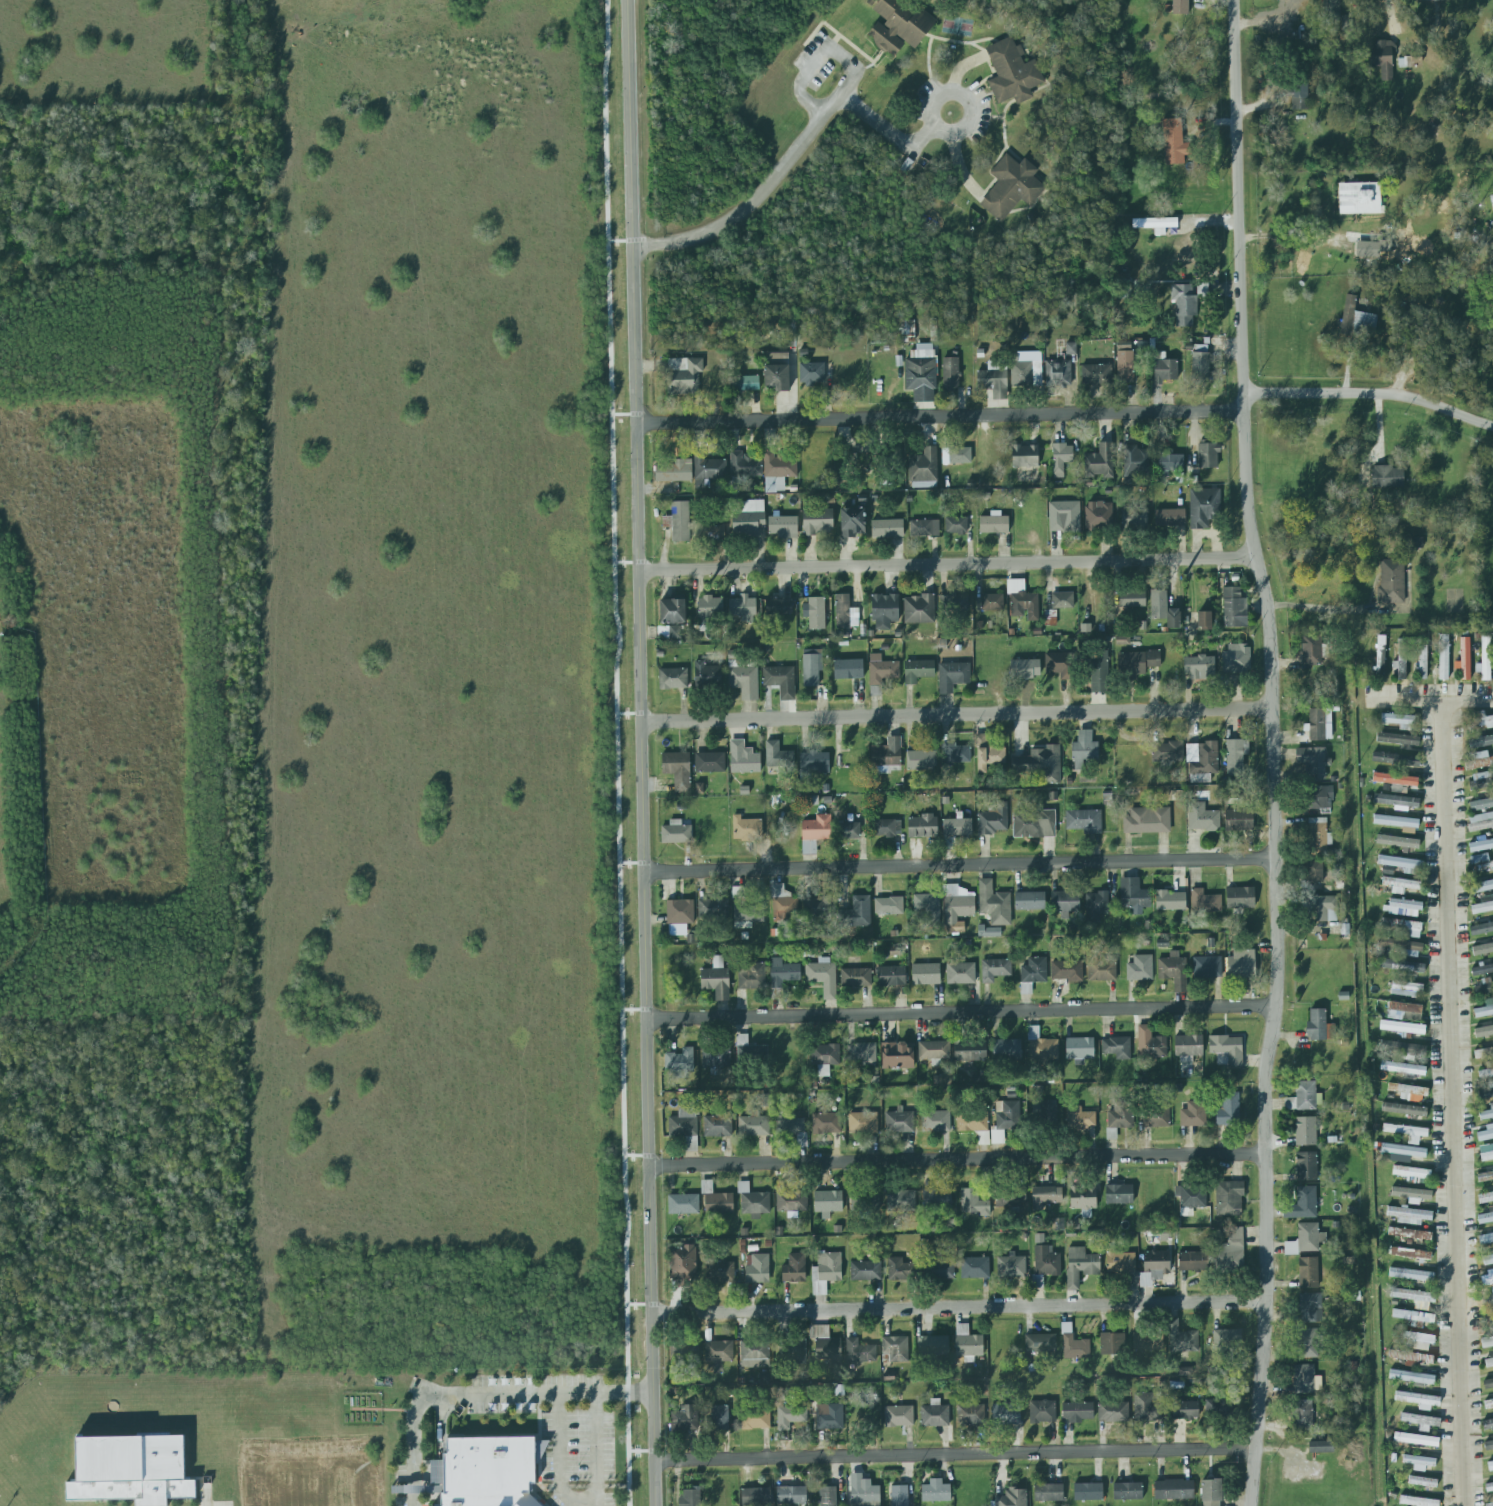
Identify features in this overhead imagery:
building: (1179, 7)
building: (899, 25)
building: (1382, 58)
building: (1409, 61)
building: (1012, 72)
building: (1299, 96)
road: (896, 139)
road: (802, 141)
building: (1173, 142)
road: (631, 163)
building: (1011, 187)
building: (1358, 198)
building: (1491, 202)
building: (1154, 223)
road: (620, 241)
building: (1374, 250)
building: (1184, 304)
building: (1356, 320)
building: (908, 327)
building: (1070, 348)
building: (778, 359)
building: (1124, 362)
building: (1200, 366)
building: (811, 370)
building: (1165, 371)
building: (1058, 373)
building: (950, 374)
building: (1026, 374)
building: (1096, 374)
building: (920, 375)
building: (776, 376)
building: (685, 379)
building: (994, 379)
building: (746, 384)
road: (1370, 392)
road: (624, 414)
road: (939, 416)
building: (957, 455)
building: (1208, 455)
building: (1024, 456)
building: (1061, 458)
building: (1100, 461)
building: (1170, 461)
building: (1135, 462)
building: (745, 465)
building: (923, 466)
building: (708, 470)
building: (778, 470)
building: (674, 471)
building: (1386, 477)
building: (1203, 507)
building: (1097, 516)
building: (747, 517)
building: (1064, 517)
building: (1169, 517)
building: (853, 518)
building: (1134, 519)
building: (817, 522)
building: (679, 523)
building: (956, 525)
building: (783, 526)
building: (994, 526)
building: (887, 528)
building: (924, 528)
building: (714, 533)
road: (627, 563)
road: (947, 566)
building: (1391, 582)
building: (1131, 598)
building: (1062, 600)
building: (1022, 601)
building: (953, 602)
building: (992, 602)
building: (778, 606)
building: (918, 606)
building: (884, 607)
building: (710, 608)
building: (743, 608)
building: (1234, 608)
building: (1163, 609)
road: (1336, 610)
building: (815, 612)
building: (844, 612)
building: (673, 614)
building: (1204, 620)
building: (1313, 649)
building: (1380, 653)
building: (1443, 657)
building: (1400, 658)
building: (1236, 660)
building: (1463, 660)
building: (1485, 660)
building: (1137, 662)
building: (1422, 662)
building: (1056, 664)
building: (1198, 667)
building: (811, 668)
building: (848, 669)
building: (1025, 669)
building: (918, 671)
building: (1098, 673)
building: (879, 674)
building: (706, 675)
building: (952, 676)
building: (673, 679)
building: (744, 681)
building: (780, 681)
road: (1437, 700)
road: (630, 714)
road: (959, 715)
building: (1479, 719)
building: (1398, 720)
building: (1317, 723)
building: (1397, 739)
building: (1481, 742)
building: (1085, 748)
road: (1274, 751)
road: (617, 752)
building: (987, 752)
building: (1167, 752)
building: (955, 753)
building: (886, 754)
building: (777, 755)
building: (1235, 756)
building: (742, 757)
building: (1205, 757)
building: (1396, 759)
building: (921, 760)
building: (1479, 761)
building: (709, 762)
building: (814, 763)
building: (1313, 763)
building: (1040, 764)
building: (677, 770)
building: (1394, 779)
building: (1481, 781)
building: (1318, 797)
building: (1396, 801)
building: (1481, 803)
building: (1202, 817)
building: (993, 820)
building: (1238, 820)
building: (1084, 821)
building: (1147, 821)
building: (1480, 822)
building: (1398, 823)
building: (1033, 824)
building: (922, 826)
building: (956, 827)
building: (886, 828)
building: (746, 829)
building: (849, 829)
building: (676, 833)
building: (815, 833)
building: (1318, 836)
building: (1396, 841)
building: (1481, 844)
road: (632, 863)
building: (1401, 863)
building: (1481, 863)
road: (960, 865)
building: (1314, 872)
building: (1400, 885)
building: (1482, 887)
building: (1133, 895)
building: (1240, 897)
building: (1169, 899)
building: (1029, 901)
building: (1204, 901)
building: (994, 903)
building: (1064, 903)
building: (783, 904)
building: (1097, 904)
building: (1483, 904)
building: (819, 906)
building: (888, 906)
building: (957, 906)
building: (712, 908)
building: (1402, 908)
building: (1326, 909)
building: (679, 910)
building: (927, 910)
building: (745, 911)
building: (855, 913)
road: (646, 916)
building: (1404, 927)
building: (1481, 928)
building: (989, 932)
building: (1482, 949)
building: (1241, 965)
building: (1402, 966)
building: (1139, 967)
building: (1206, 967)
building: (995, 969)
building: (1033, 969)
building: (1482, 969)
building: (1066, 970)
building: (1101, 970)
building: (1173, 971)
building: (925, 973)
building: (960, 973)
building: (750, 975)
building: (782, 975)
building: (823, 976)
building: (891, 976)
building: (855, 977)
building: (716, 979)
building: (1484, 987)
building: (1025, 988)
building: (1405, 989)
building: (1484, 1009)
road: (634, 1010)
building: (1404, 1011)
road: (963, 1014)
building: (1319, 1026)
building: (1402, 1027)
building: (1483, 1031)
building: (1150, 1043)
building: (1115, 1044)
building: (1041, 1047)
building: (1188, 1048)
building: (1007, 1049)
building: (1080, 1049)
building: (1226, 1049)
building: (1401, 1050)
building: (750, 1051)
building: (933, 1051)
building: (970, 1051)
building: (864, 1052)
building: (825, 1053)
building: (1483, 1053)
building: (895, 1055)
building: (715, 1057)
building: (679, 1060)
building: (1402, 1068)
building: (1485, 1074)
building: (1178, 1088)
building: (1485, 1092)
building: (1304, 1097)
building: (1406, 1098)
road: (1454, 1103)
building: (1228, 1110)
building: (1045, 1112)
building: (1487, 1112)
building: (1193, 1113)
building: (1008, 1116)
building: (1121, 1116)
building: (1155, 1116)
building: (1079, 1118)
building: (971, 1120)
building: (898, 1121)
building: (935, 1121)
building: (863, 1122)
building: (826, 1123)
building: (685, 1124)
building: (717, 1124)
building: (753, 1125)
building: (797, 1131)
building: (1305, 1131)
building: (1406, 1132)
building: (1486, 1133)
building: (1403, 1150)
building: (1485, 1151)
road: (637, 1156)
road: (960, 1163)
building: (1306, 1166)
building: (1411, 1172)
building: (1485, 1177)
building: (1411, 1192)
building: (1117, 1193)
building: (1046, 1195)
building: (1192, 1196)
building: (1485, 1196)
building: (937, 1198)
building: (1228, 1198)
building: (1083, 1199)
building: (1010, 1200)
building: (791, 1201)
building: (864, 1201)
building: (900, 1201)
building: (753, 1202)
building: (683, 1203)
building: (719, 1203)
building: (828, 1203)
building: (973, 1203)
building: (1303, 1204)
building: (1409, 1215)
building: (1486, 1216)
building: (1073, 1224)
building: (1409, 1234)
building: (1309, 1237)
building: (1485, 1239)
building: (1290, 1248)
building: (1229, 1252)
building: (1410, 1253)
building: (1043, 1258)
building: (683, 1259)
building: (1119, 1259)
building: (1487, 1259)
building: (1193, 1261)
building: (1078, 1265)
building: (1010, 1266)
building: (973, 1267)
building: (792, 1268)
building: (757, 1269)
building: (895, 1269)
building: (939, 1269)
building: (719, 1271)
building: (865, 1271)
building: (1308, 1271)
building: (826, 1272)
building: (1411, 1274)
building: (1414, 1298)
building: (1487, 1298)
road: (639, 1305)
road: (959, 1308)
building: (1310, 1308)
building: (1490, 1313)
building: (1412, 1316)
building: (818, 1332)
building: (1181, 1337)
building: (1147, 1340)
building: (1227, 1340)
building: (1417, 1341)
building: (1487, 1341)
building: (1040, 1342)
building: (967, 1343)
building: (1112, 1343)
building: (1307, 1343)
building: (1073, 1344)
building: (933, 1345)
building: (895, 1348)
building: (829, 1349)
building: (793, 1351)
building: (859, 1351)
building: (717, 1352)
building: (755, 1353)
building: (1411, 1358)
building: (1488, 1361)
building: (1184, 1371)
building: (1411, 1377)
building: (1305, 1379)
building: (1488, 1382)
road: (483, 1394)
building: (1418, 1400)
building: (1488, 1403)
building: (1147, 1406)
building: (1218, 1408)
building: (1185, 1410)
building: (1042, 1411)
building: (1077, 1412)
building: (1113, 1412)
building: (1006, 1413)
building: (934, 1414)
building: (970, 1414)
building: (1301, 1414)
building: (790, 1416)
building: (829, 1416)
building: (898, 1416)
building: (719, 1417)
building: (684, 1419)
building: (755, 1419)
building: (1421, 1421)
building: (1487, 1425)
road: (439, 1426)
building: (1415, 1439)
building: (1488, 1444)
building: (1320, 1447)
road: (596, 1449)
road: (641, 1451)
road: (559, 1454)
road: (954, 1455)
building: (1418, 1462)
building: (1490, 1466)
building: (130, 1470)
building: (489, 1472)
building: (435, 1477)
building: (1422, 1482)
road: (593, 1486)
building: (1489, 1486)
building: (1173, 1488)
building: (863, 1490)
building: (935, 1490)
building: (1088, 1490)
building: (1128, 1490)
building: (1049, 1491)
building: (1210, 1492)
building: (791, 1495)
building: (899, 1495)
building: (755, 1496)
building: (827, 1496)
building: (690, 1497)
building: (1012, 1498)
building: (1417, 1501)
building: (1488, 1503)

